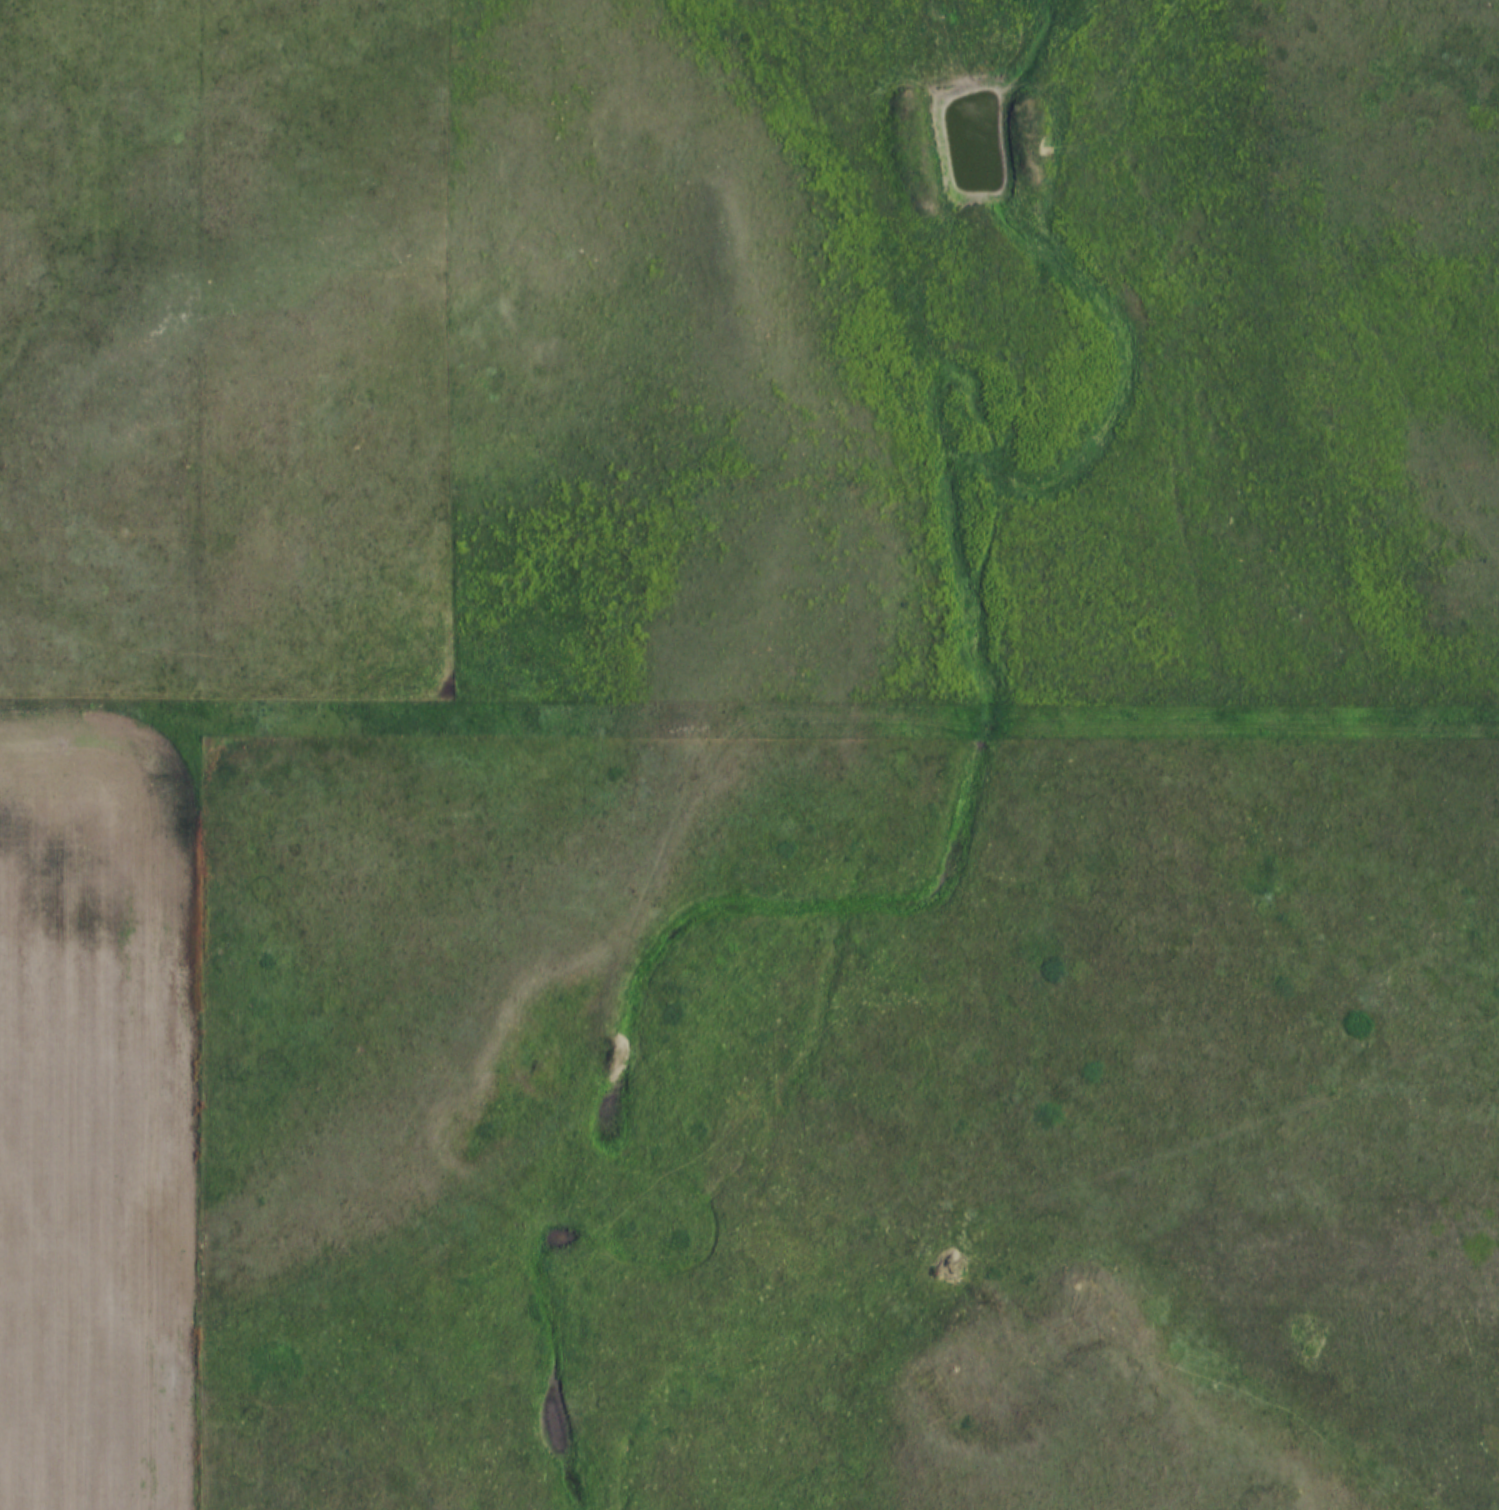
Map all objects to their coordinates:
road: (749, 717)

